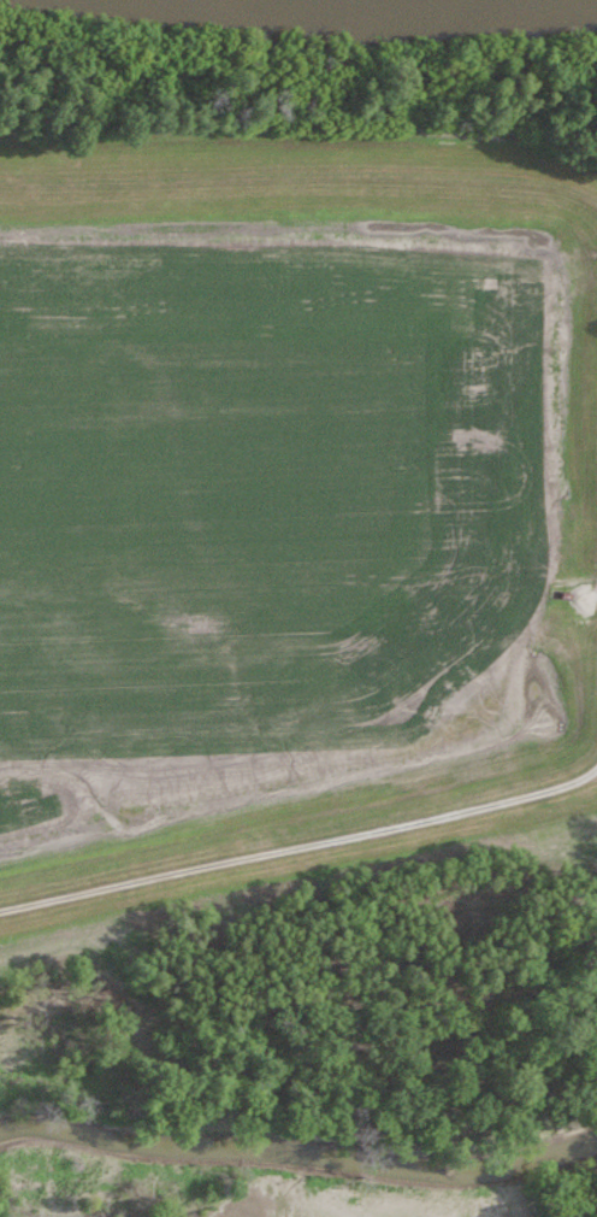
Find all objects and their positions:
road: (473, 801)

